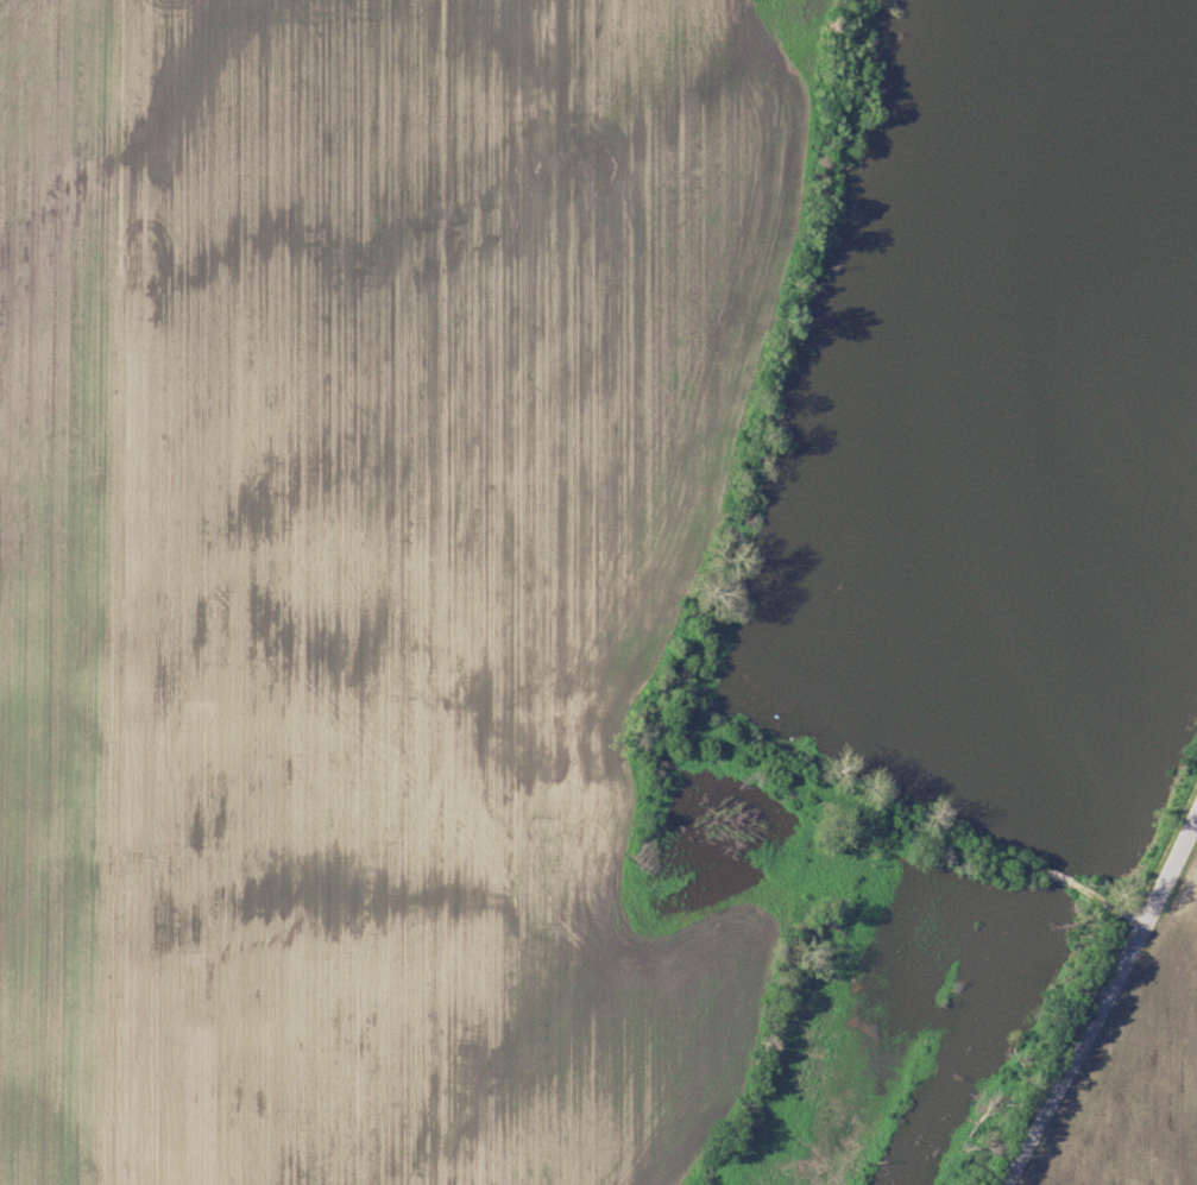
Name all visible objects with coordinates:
road: (1111, 1004)

